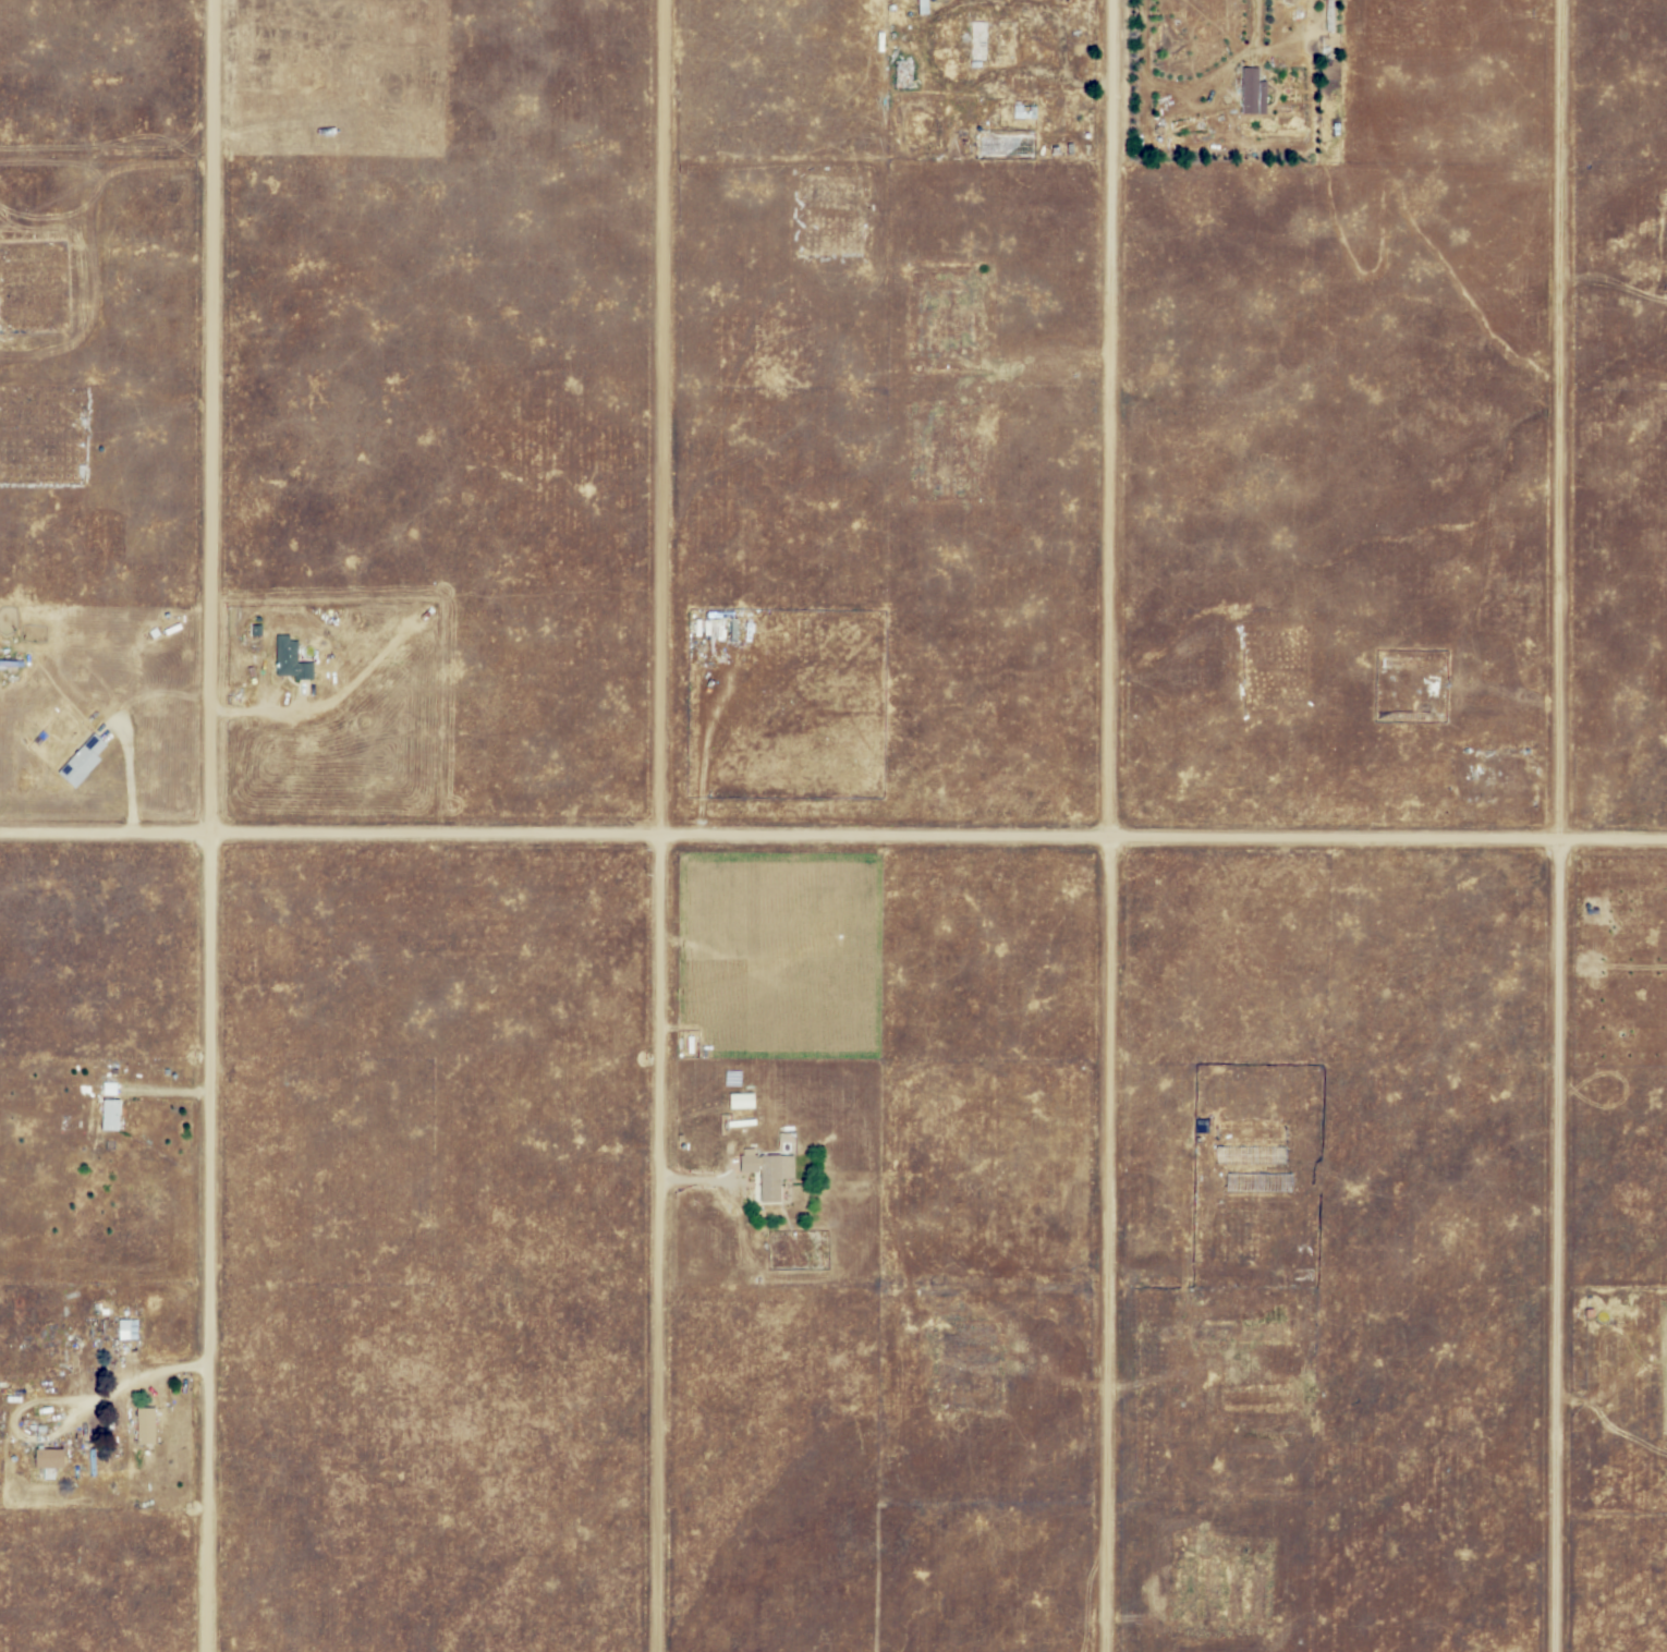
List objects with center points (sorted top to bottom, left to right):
building: (924, 9)
building: (981, 42)
road: (1225, 59)
building: (1253, 92)
building: (1021, 112)
building: (96, 420)
road: (656, 421)
building: (112, 427)
building: (258, 630)
building: (292, 659)
building: (12, 665)
building: (85, 761)
road: (205, 825)
road: (1104, 826)
road: (1553, 826)
road: (832, 841)
building: (111, 1089)
building: (111, 1115)
building: (765, 1171)
road: (652, 1247)
building: (124, 1331)
building: (146, 1424)
building: (46, 1459)

